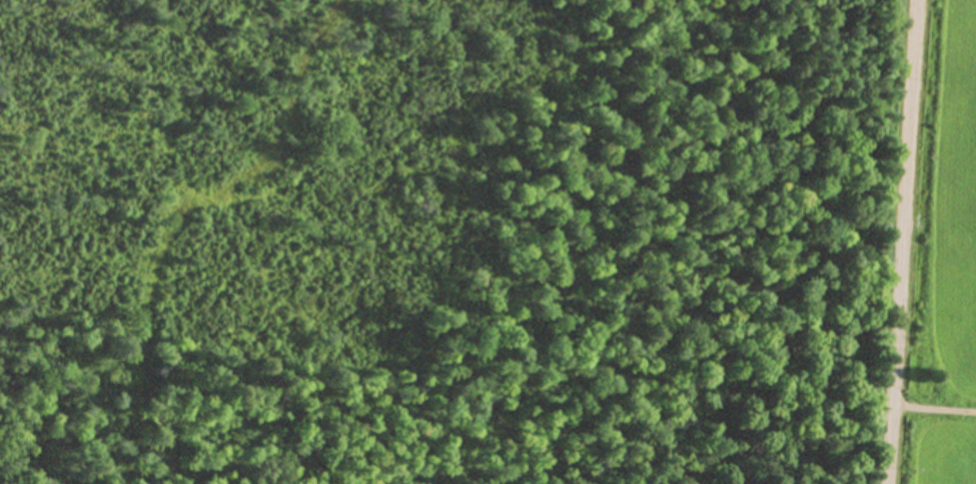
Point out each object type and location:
road: (902, 242)
road: (934, 407)

